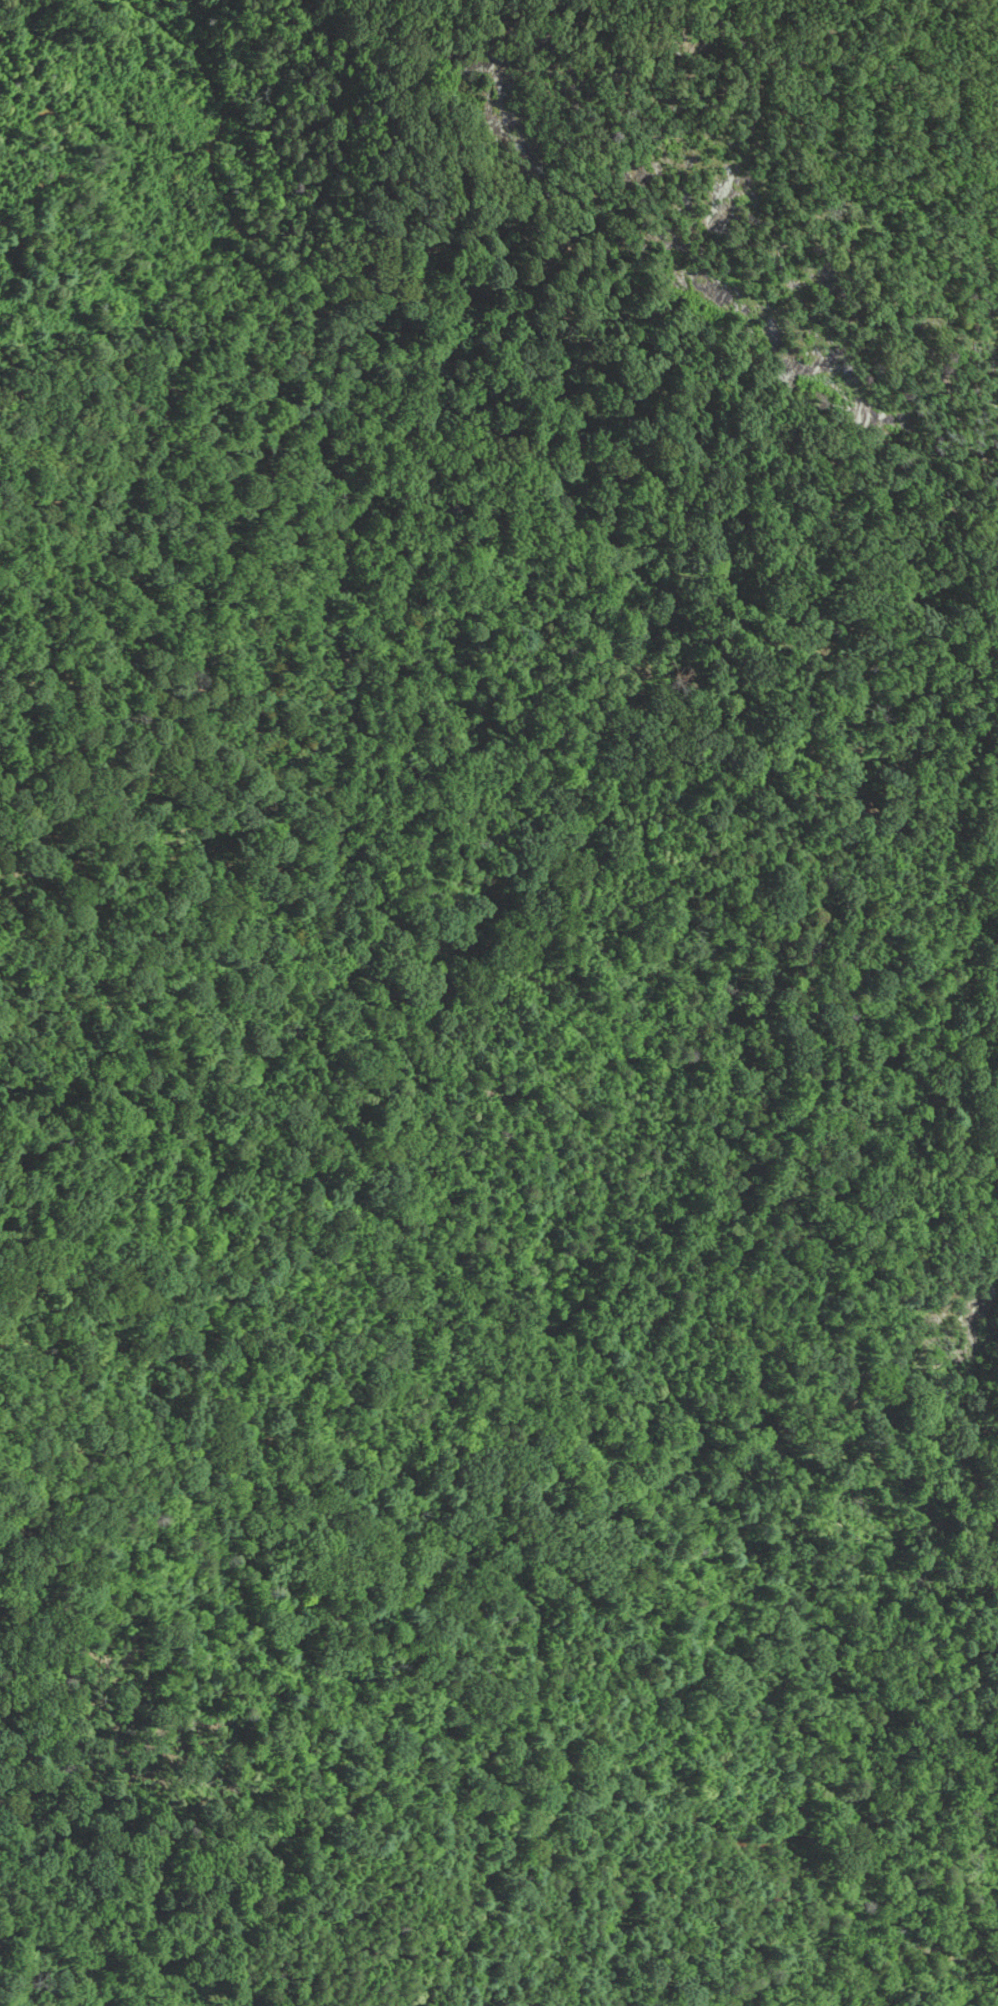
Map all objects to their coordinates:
river: (876, 1961)

